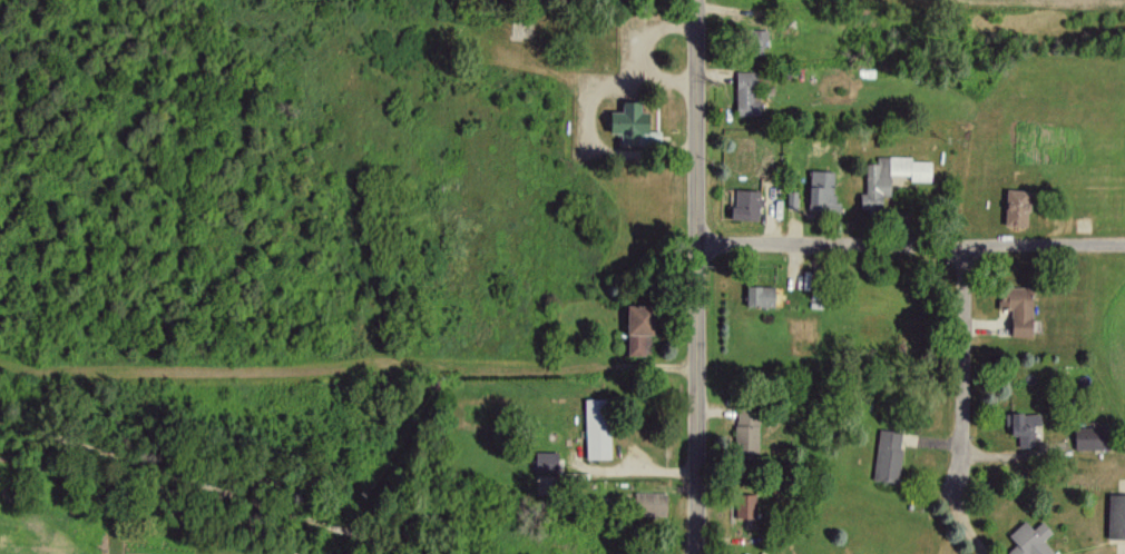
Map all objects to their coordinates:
road: (698, 11)
building: (754, 40)
building: (744, 92)
building: (629, 126)
building: (888, 177)
building: (820, 192)
building: (743, 205)
building: (1013, 207)
road: (1044, 239)
road: (831, 240)
road: (697, 288)
building: (757, 295)
building: (1015, 308)
building: (634, 328)
road: (961, 364)
building: (1021, 426)
building: (594, 427)
building: (744, 428)
building: (1086, 436)
building: (886, 455)
building: (545, 462)
road: (206, 485)
building: (648, 503)
building: (742, 505)
building: (1115, 516)
building: (1028, 538)

